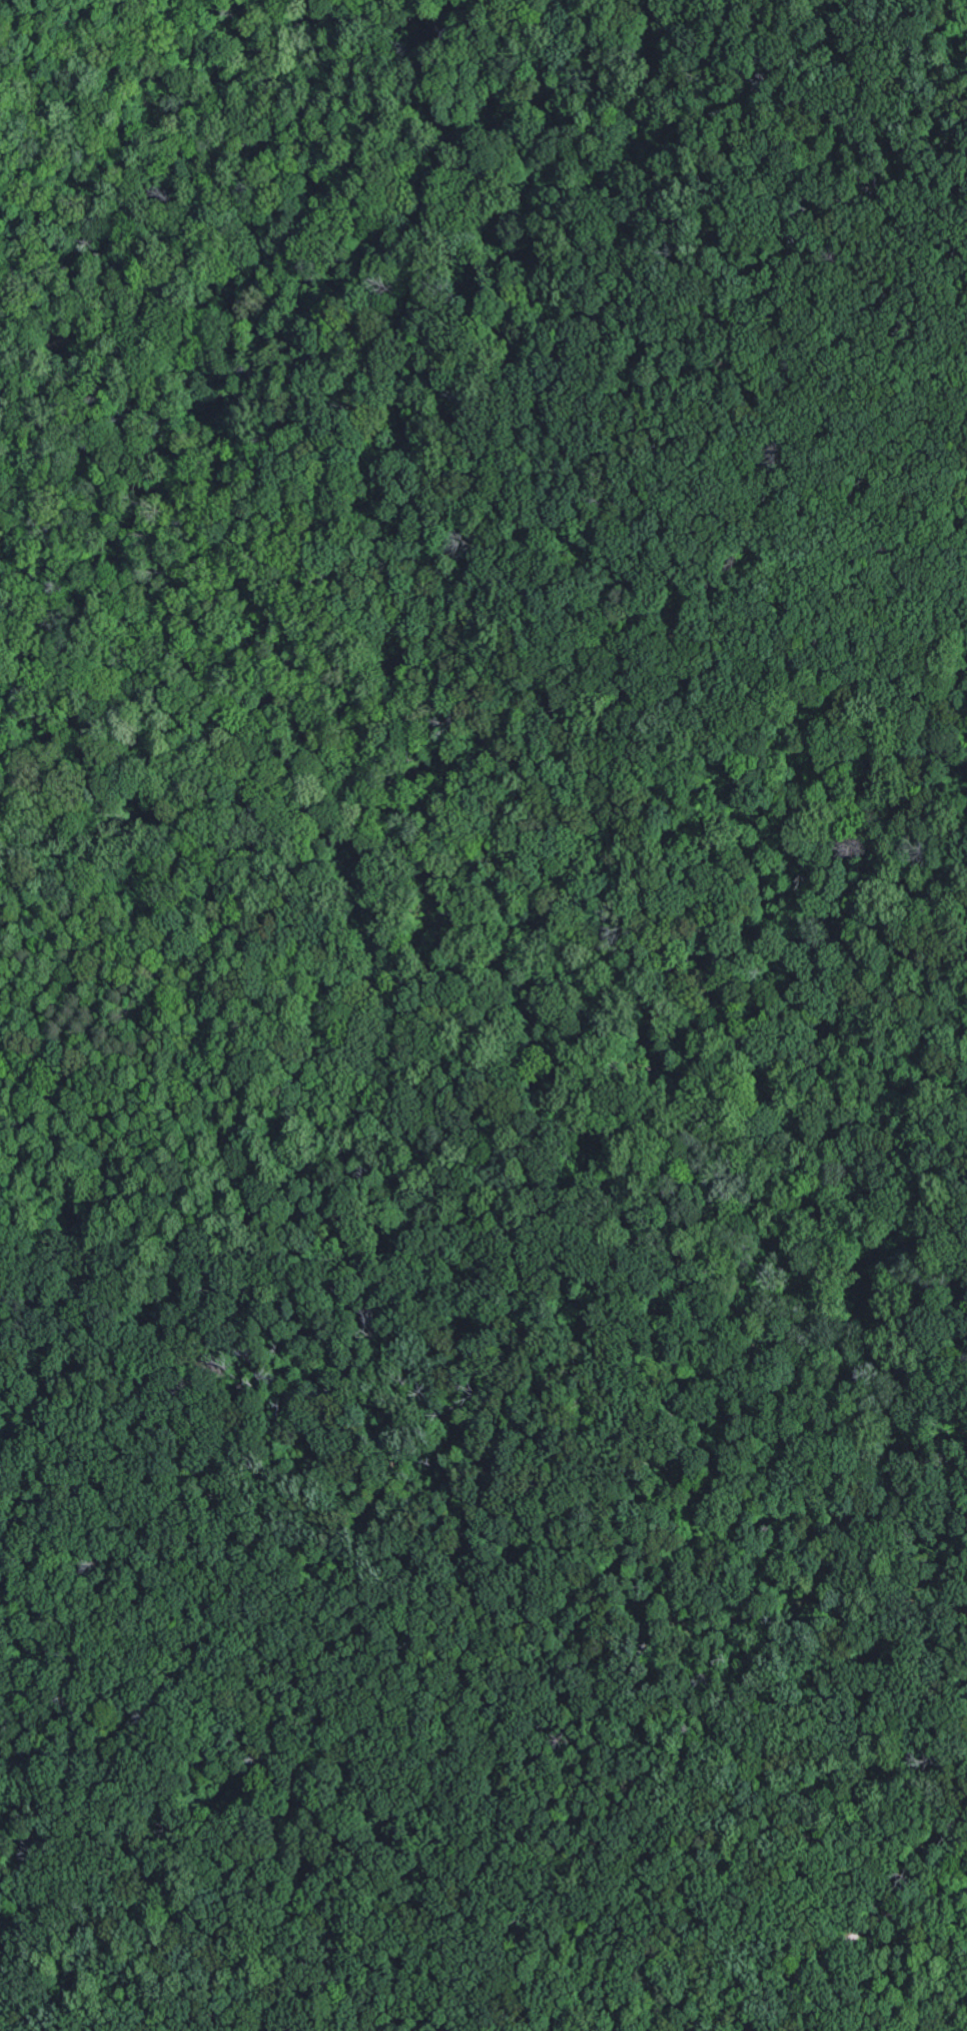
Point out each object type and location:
road: (842, 1942)

